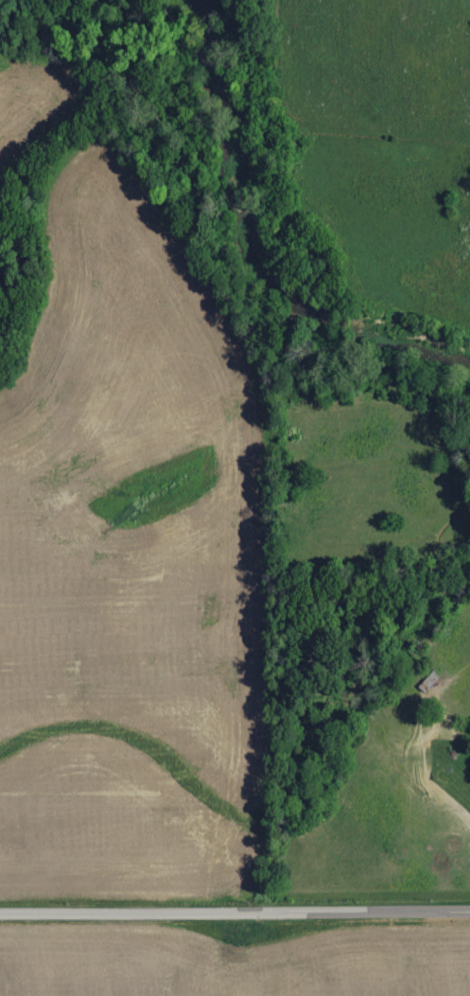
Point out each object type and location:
road: (235, 912)

